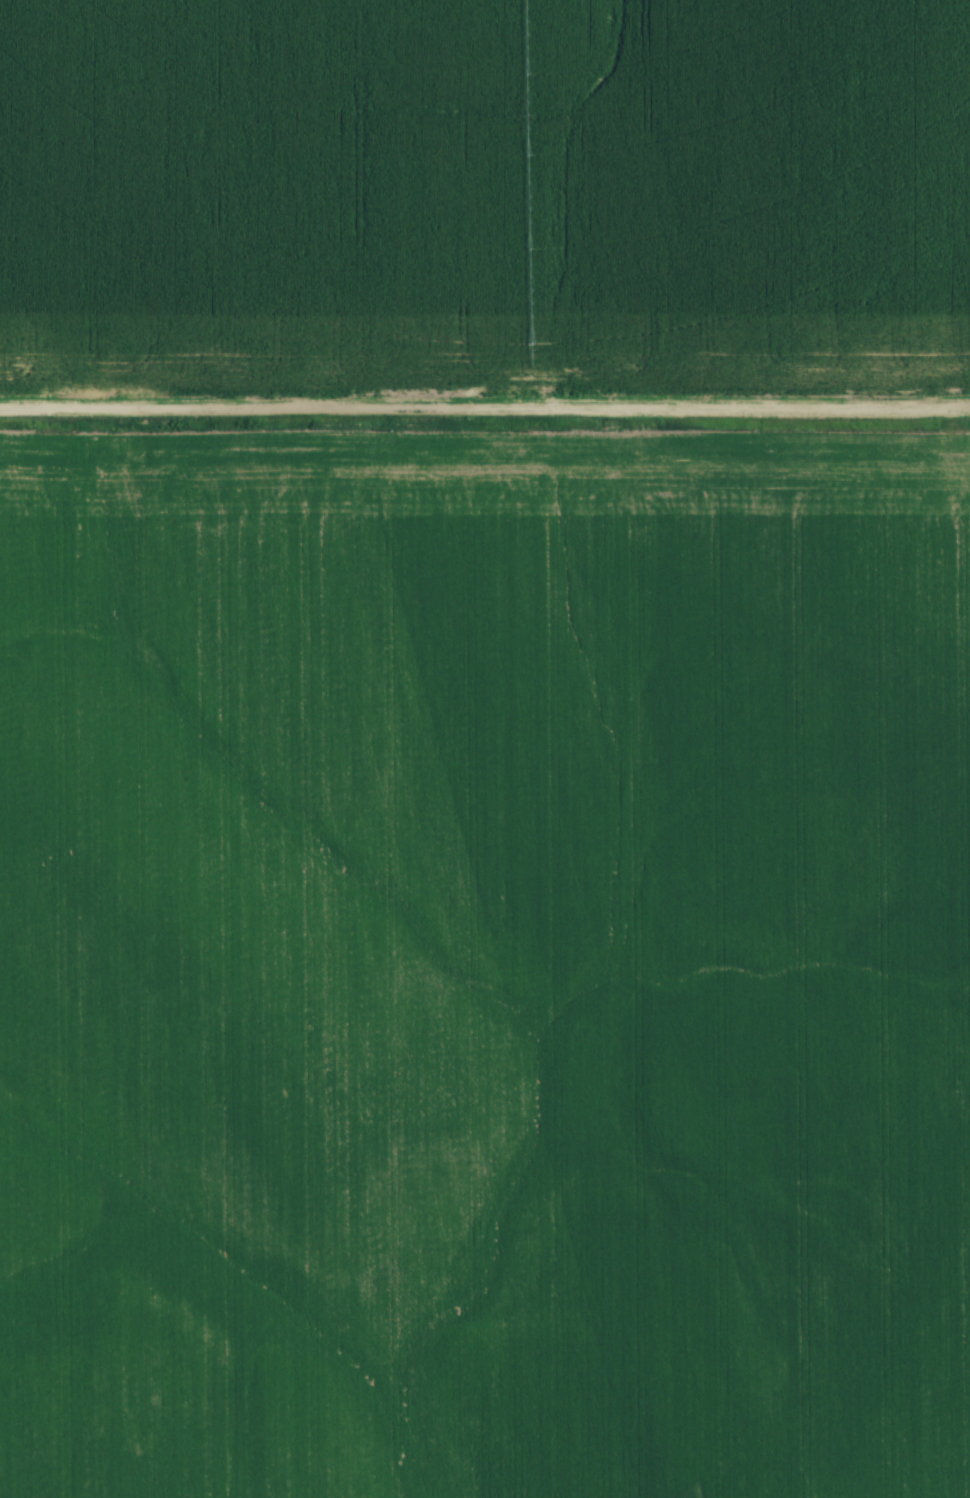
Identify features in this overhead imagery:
road: (485, 418)

